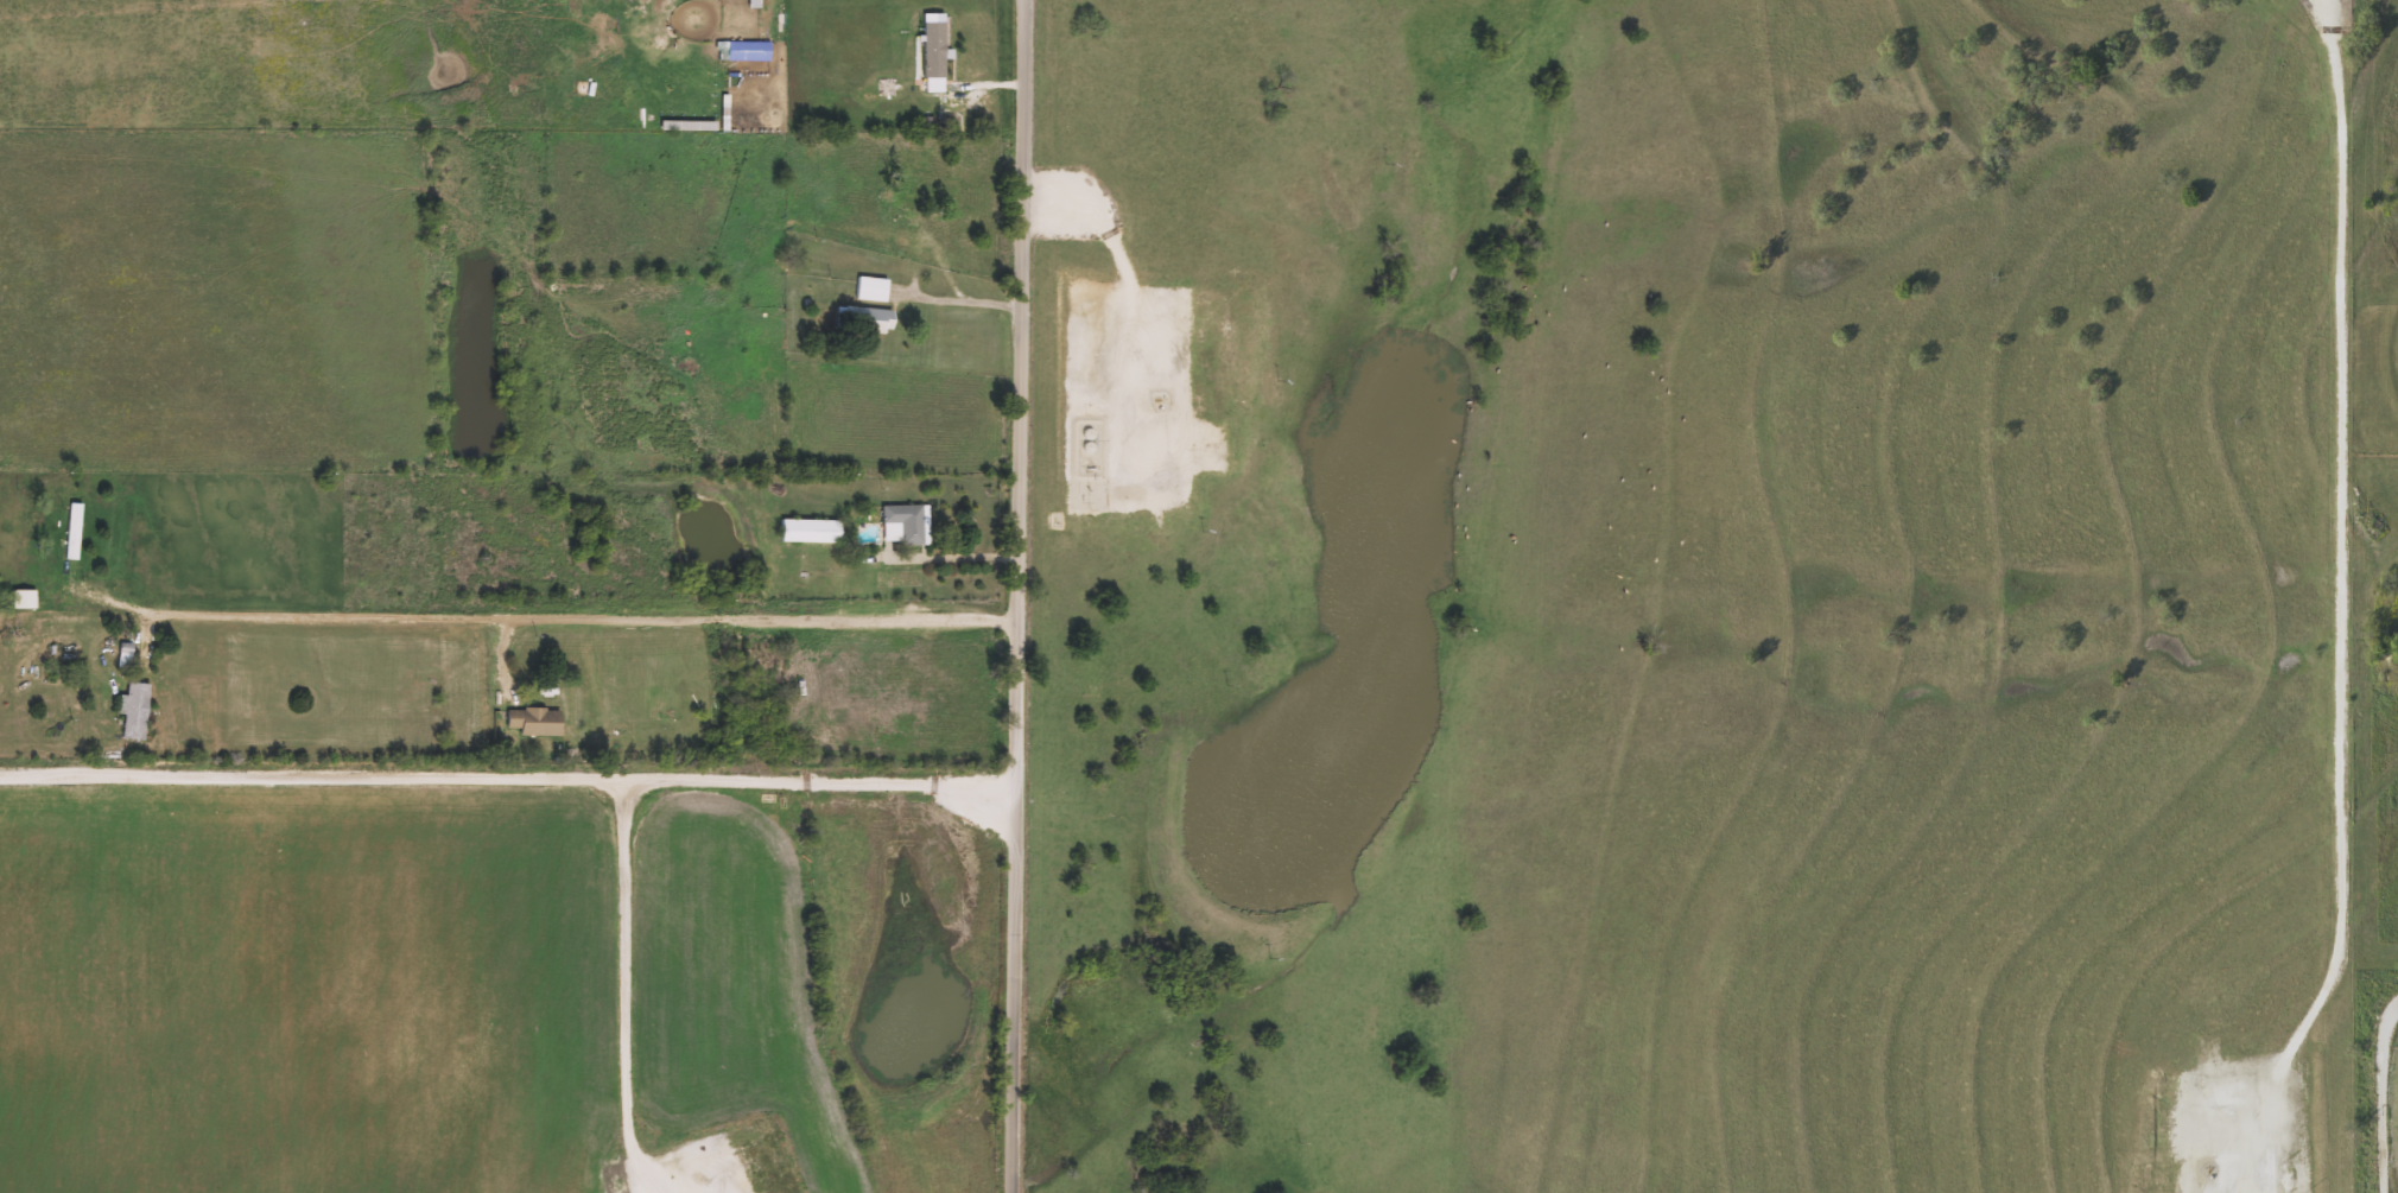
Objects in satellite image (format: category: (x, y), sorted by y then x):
building: (747, 50)
building: (935, 50)
road: (960, 284)
building: (874, 288)
building: (719, 297)
building: (867, 319)
building: (908, 525)
building: (76, 531)
building: (812, 532)
road: (958, 558)
road: (1024, 596)
building: (26, 599)
road: (585, 635)
building: (137, 711)
building: (537, 722)
road: (510, 774)
road: (627, 894)
road: (2381, 1093)

